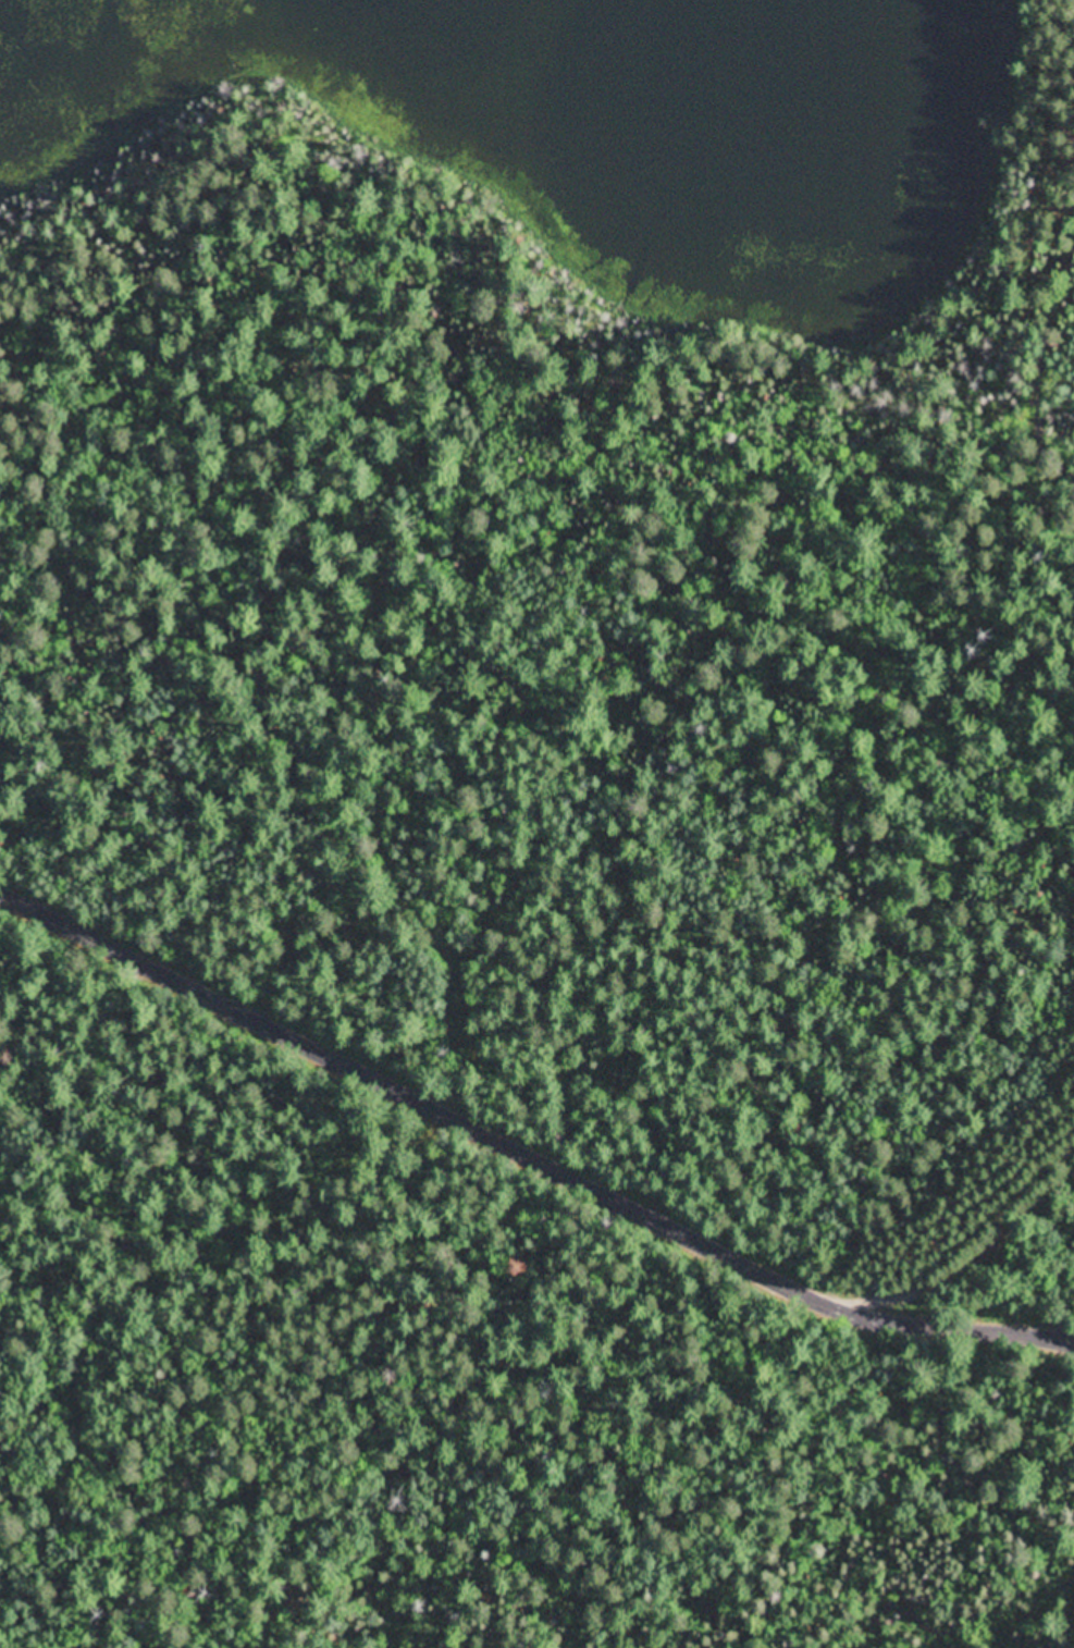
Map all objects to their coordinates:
road: (823, 696)
road: (526, 1148)

